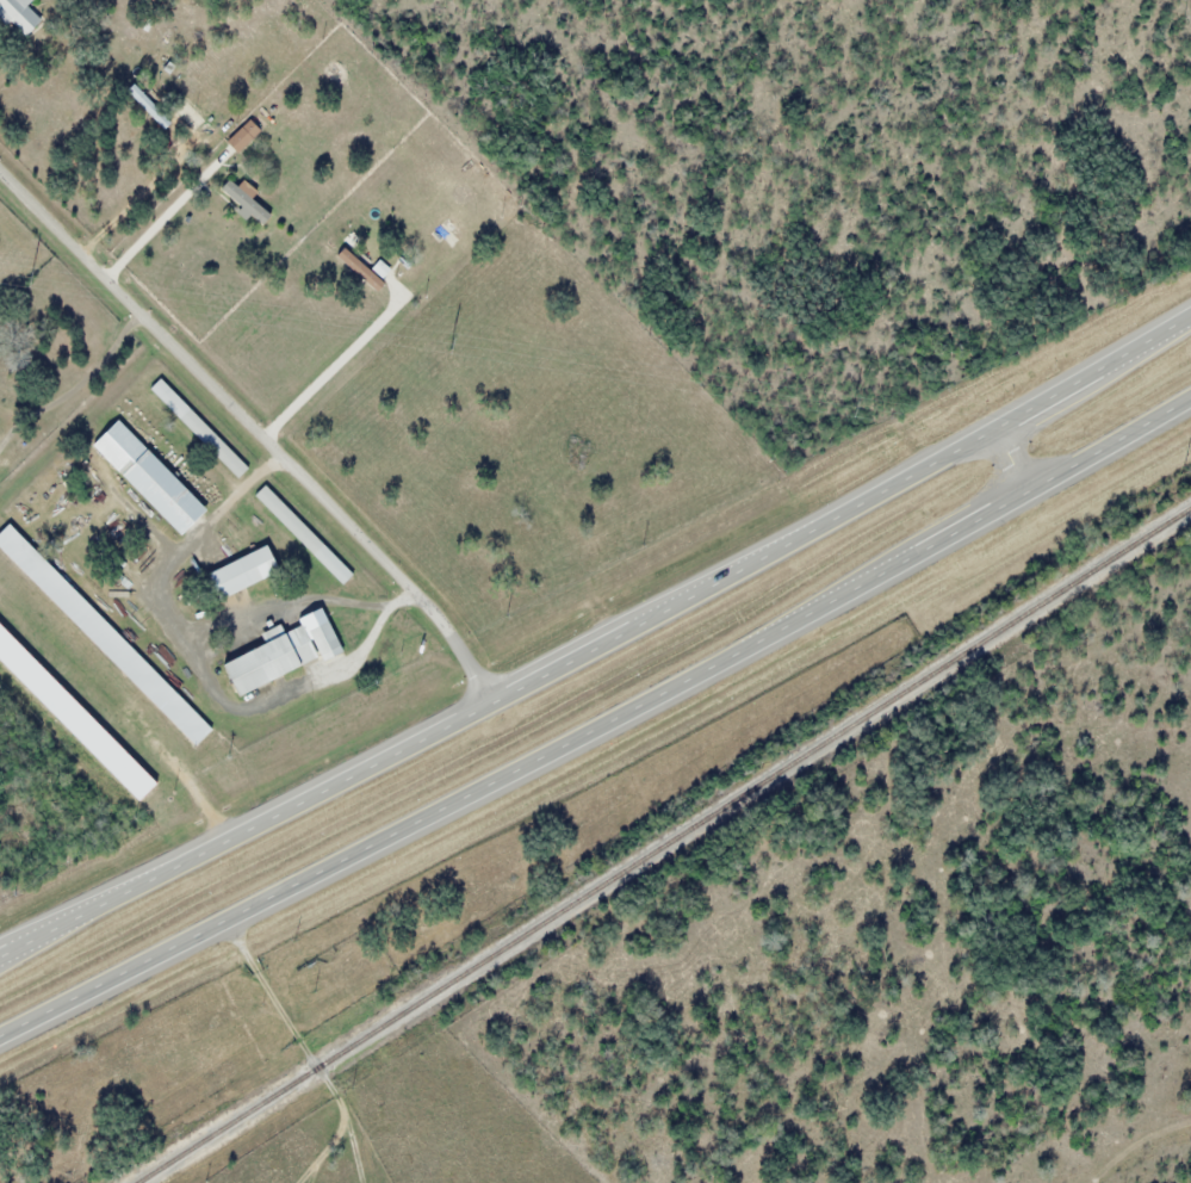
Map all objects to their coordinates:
building: (17, 16)
building: (240, 136)
building: (241, 197)
building: (362, 268)
power tower: (31, 277)
power tower: (452, 342)
power tower: (854, 405)
road: (255, 429)
road: (1015, 466)
building: (143, 477)
building: (300, 534)
building: (238, 571)
building: (38, 574)
road: (595, 650)
building: (275, 657)
building: (72, 723)
road: (598, 727)
railway: (666, 848)

